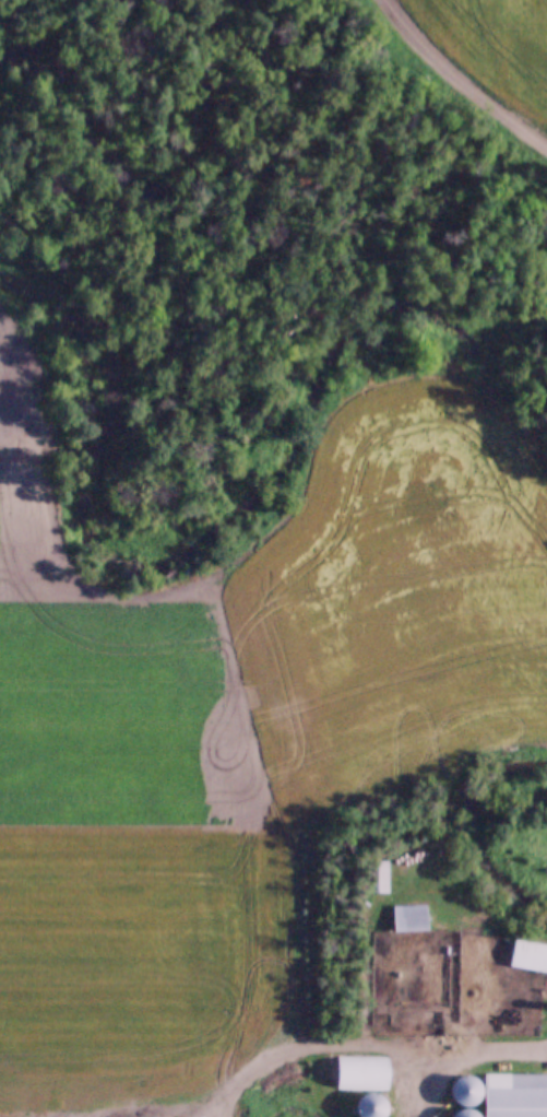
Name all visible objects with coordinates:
building: (520, 769)
building: (376, 878)
building: (407, 919)
building: (527, 959)
road: (450, 1049)
building: (359, 1073)
building: (513, 1095)
building: (365, 1106)

